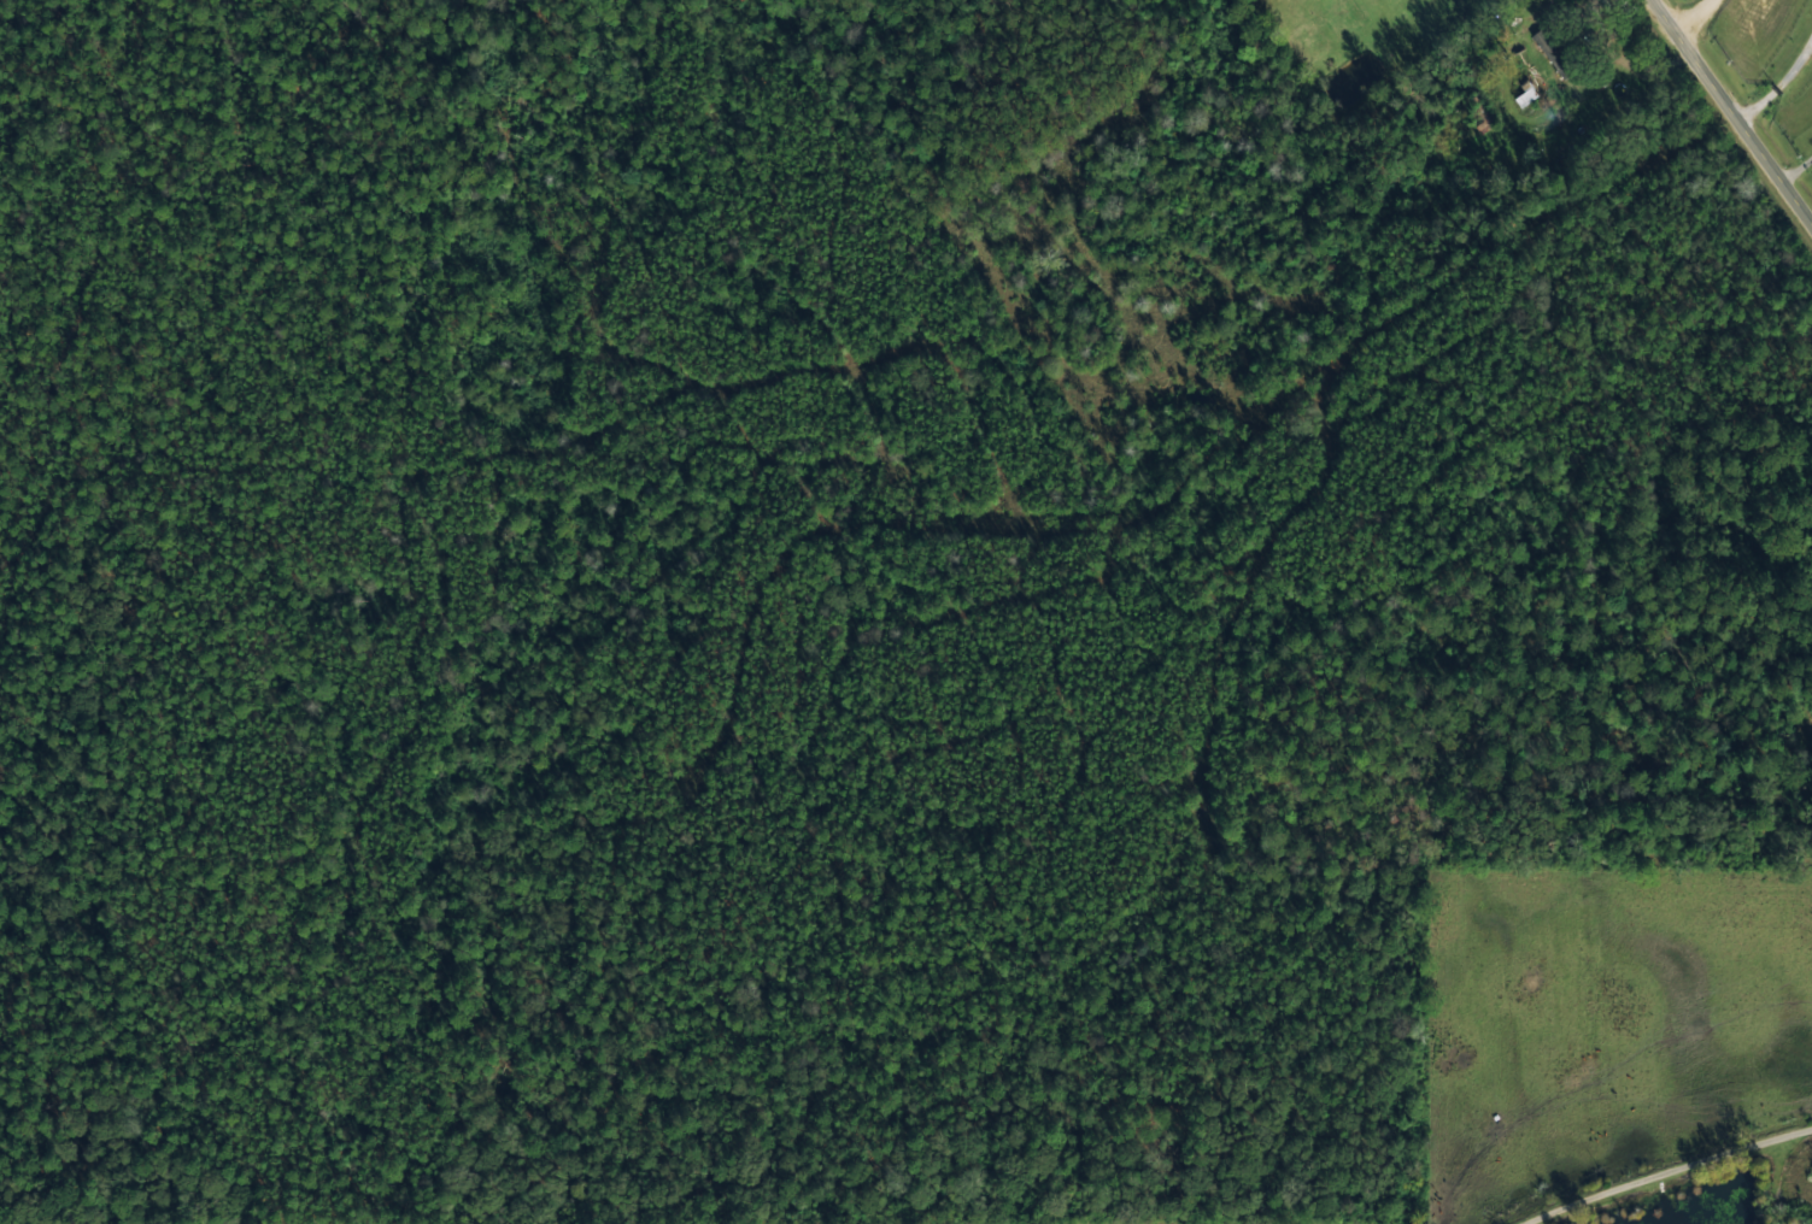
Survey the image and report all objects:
road: (1765, 58)
building: (1525, 95)
road: (1728, 117)
road: (1656, 1163)

